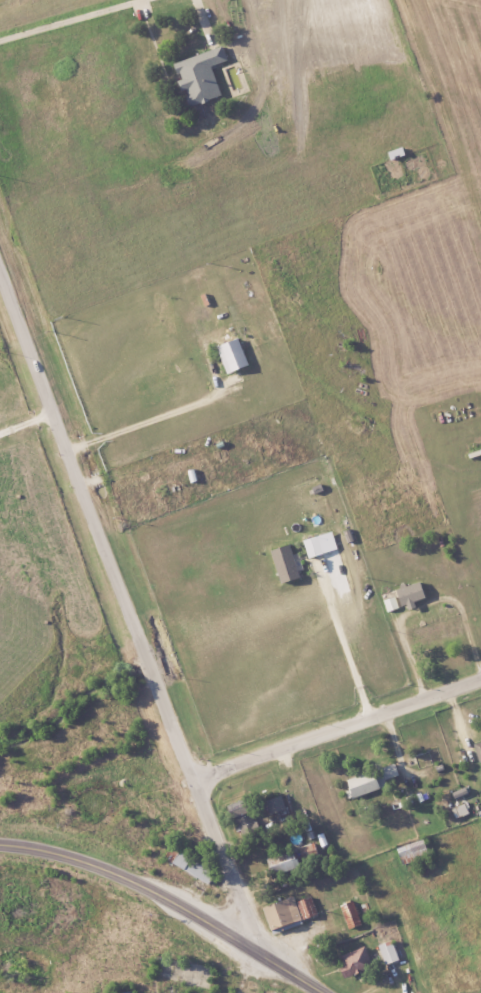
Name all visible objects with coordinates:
road: (68, 20)
building: (197, 76)
building: (229, 355)
road: (27, 422)
road: (143, 422)
building: (318, 544)
building: (285, 562)
building: (407, 595)
road: (129, 609)
road: (339, 647)
road: (337, 729)
building: (479, 747)
building: (274, 805)
building: (248, 823)
building: (283, 863)
building: (192, 867)
road: (165, 902)
building: (283, 912)
building: (349, 914)
building: (386, 953)
building: (353, 960)

